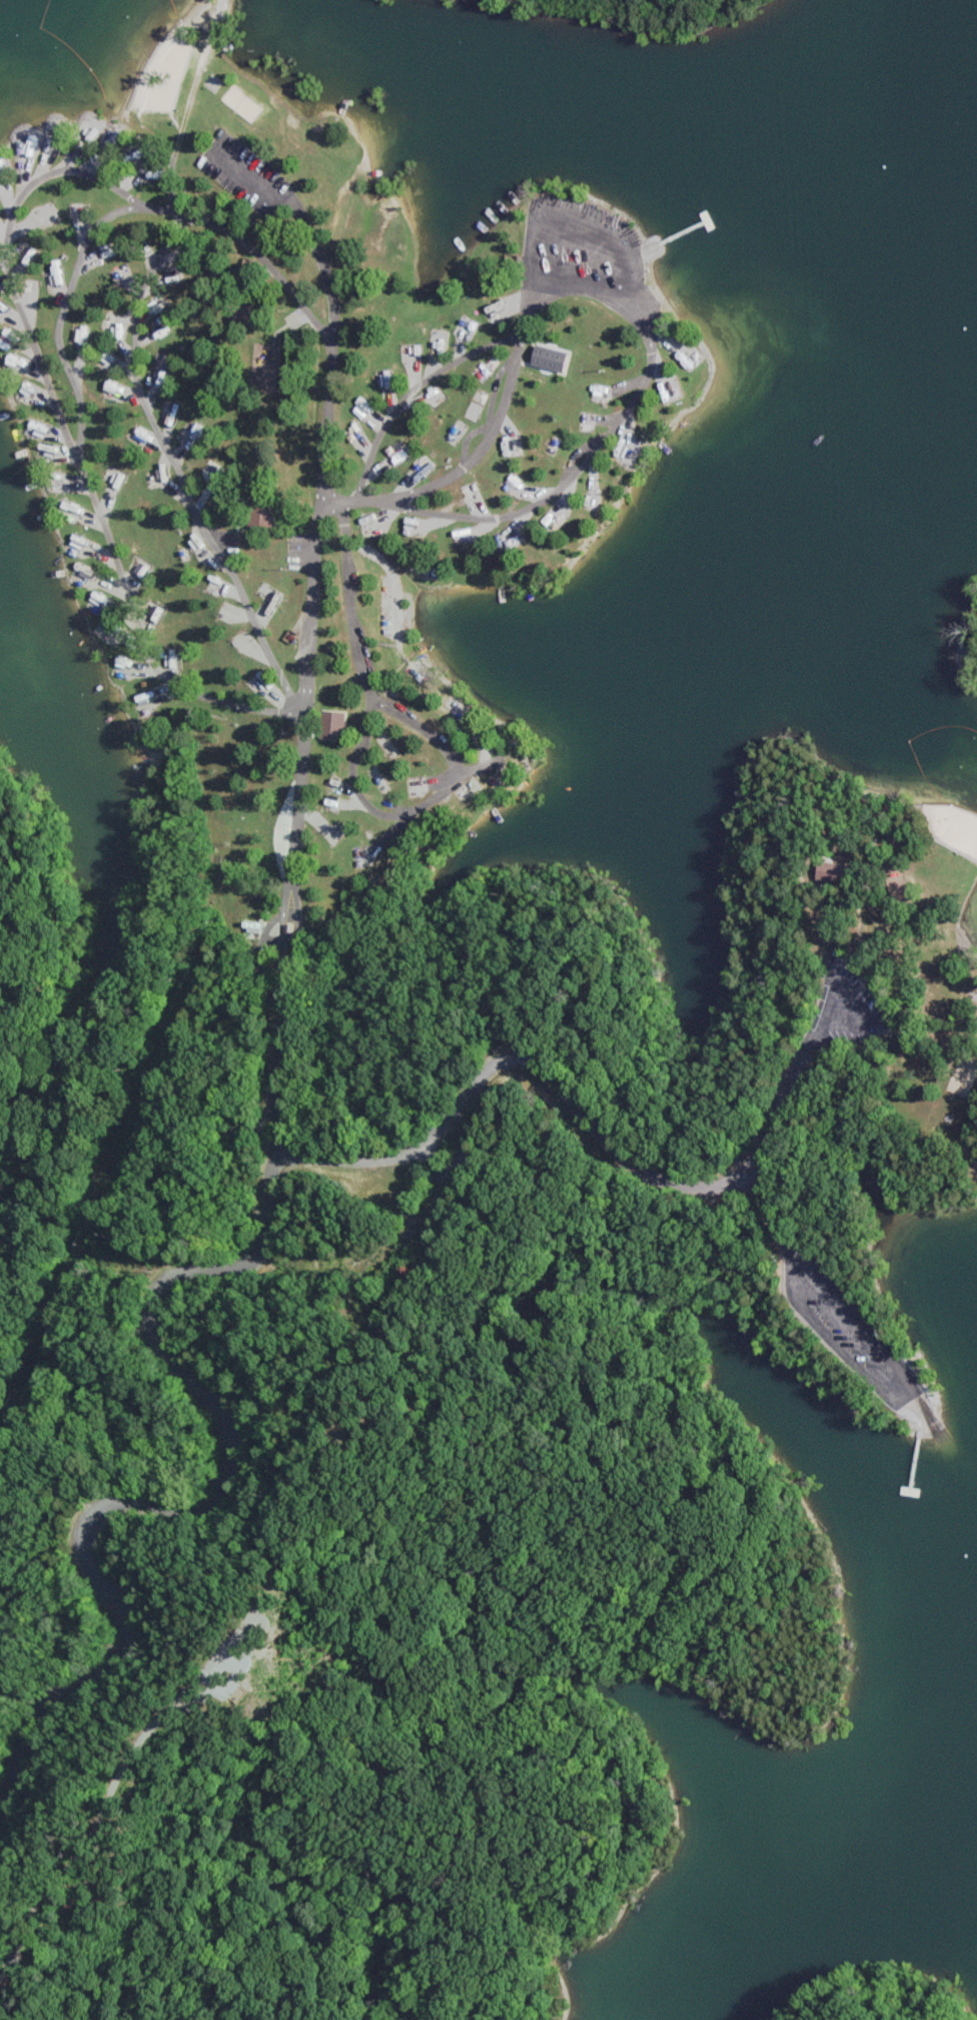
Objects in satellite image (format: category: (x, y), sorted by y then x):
road: (292, 921)
road: (596, 1126)
road: (829, 1288)
road: (211, 1488)

